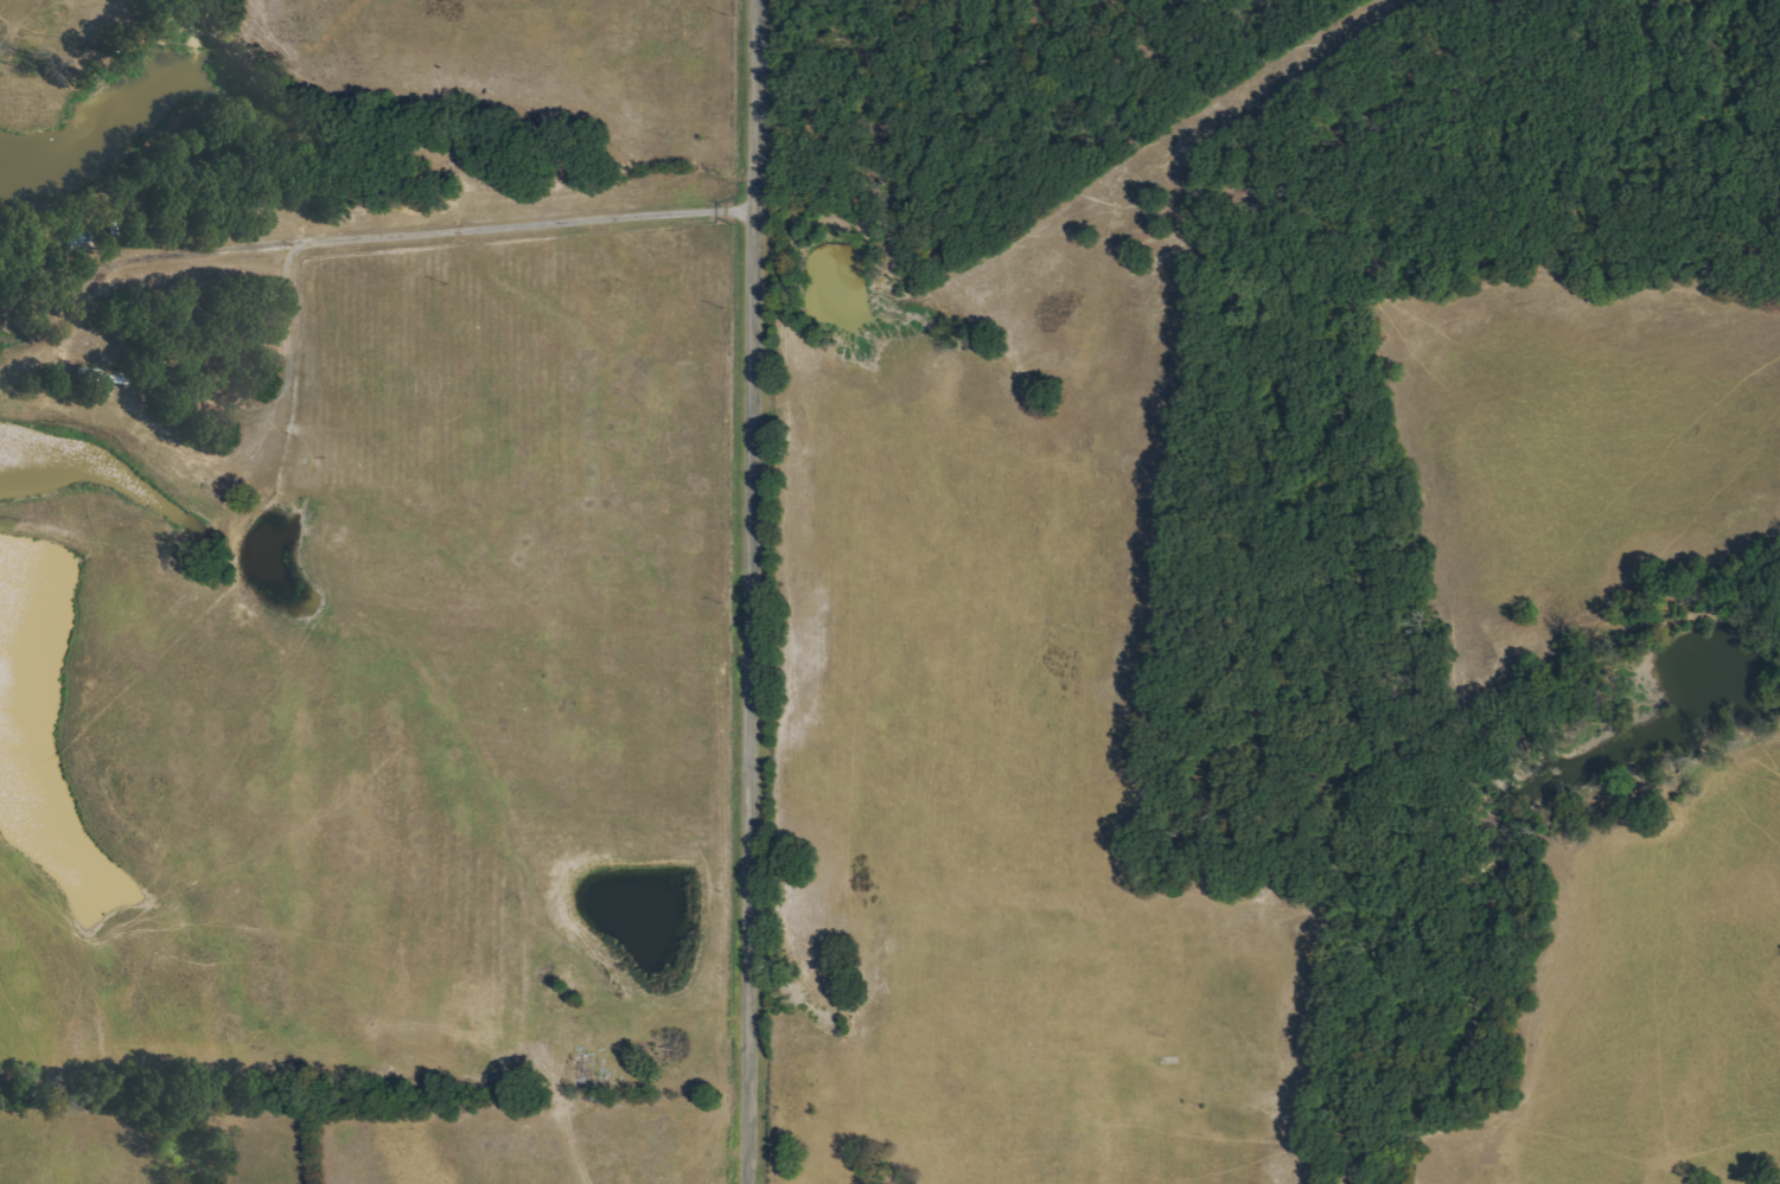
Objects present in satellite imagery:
road: (398, 236)
road: (751, 591)
power tower: (719, 890)
building: (585, 1070)
power tower: (778, 1106)

